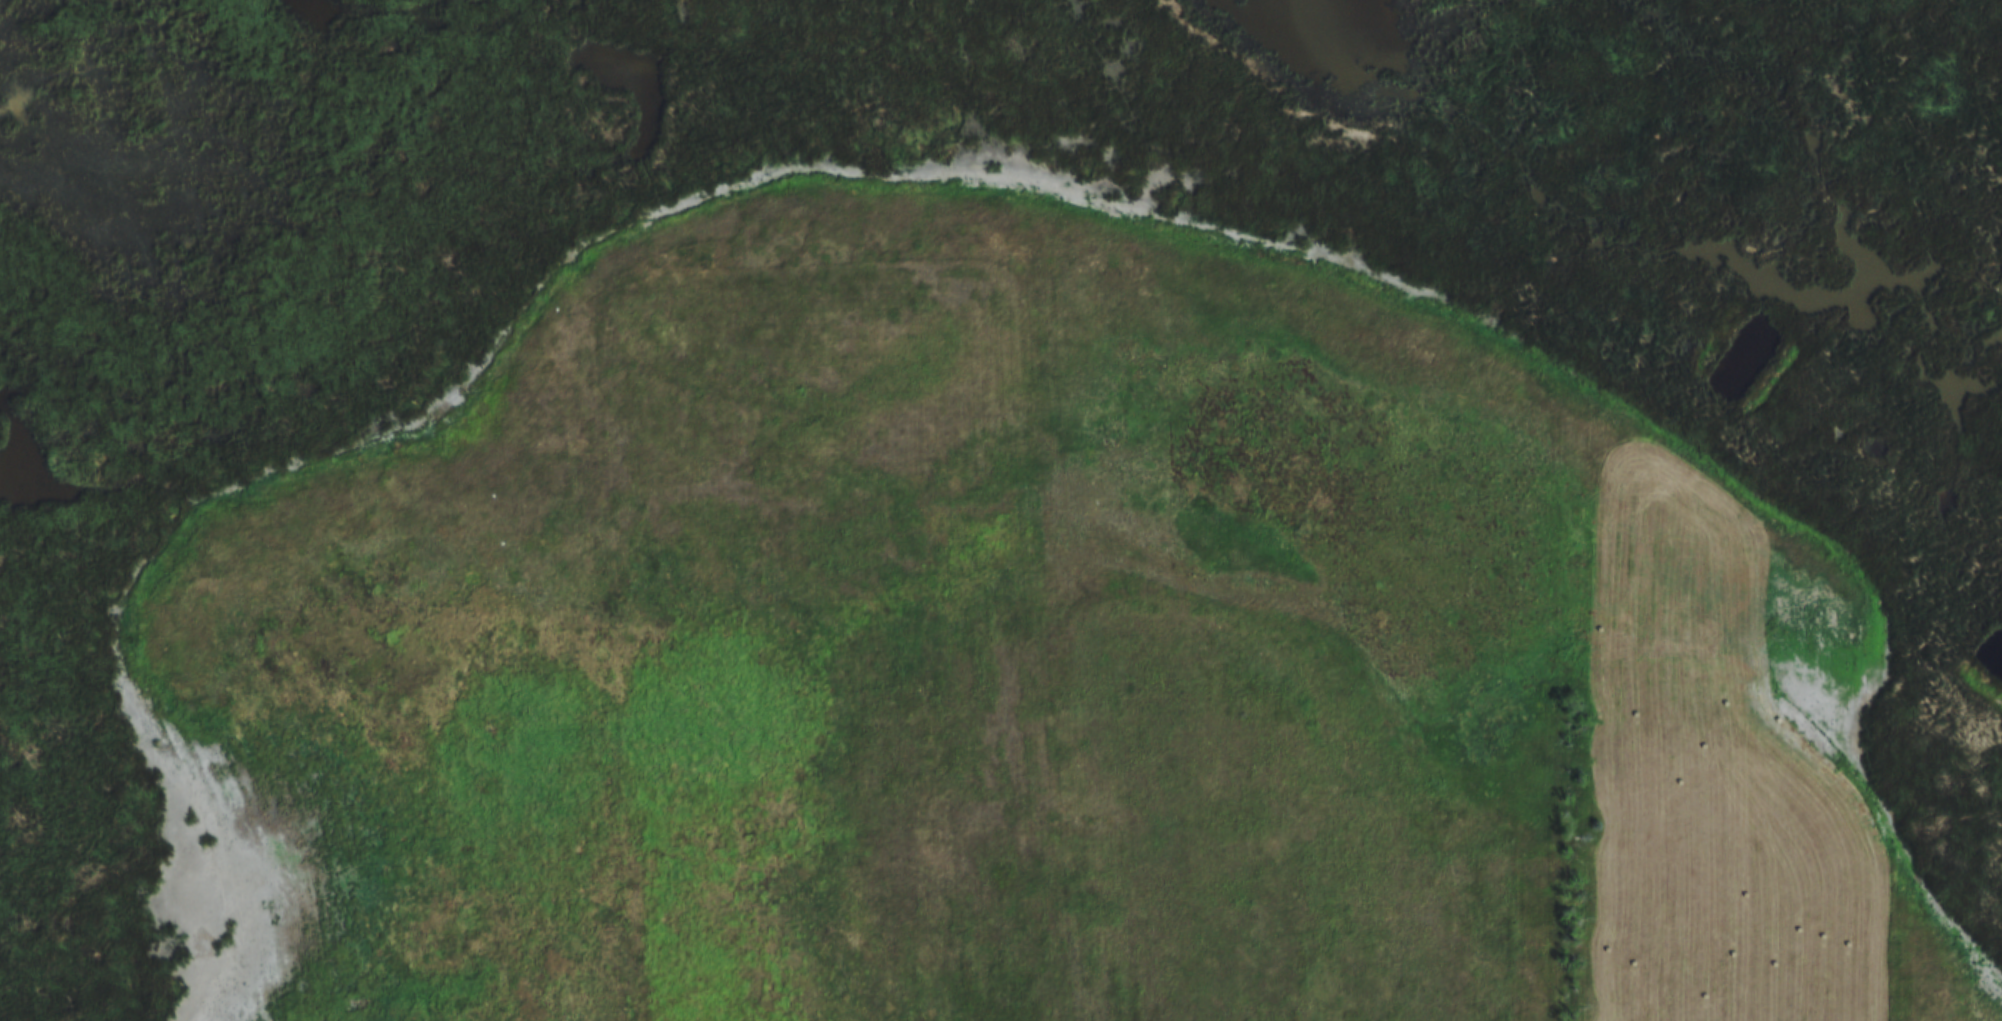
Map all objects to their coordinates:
river: (1669, 82)

